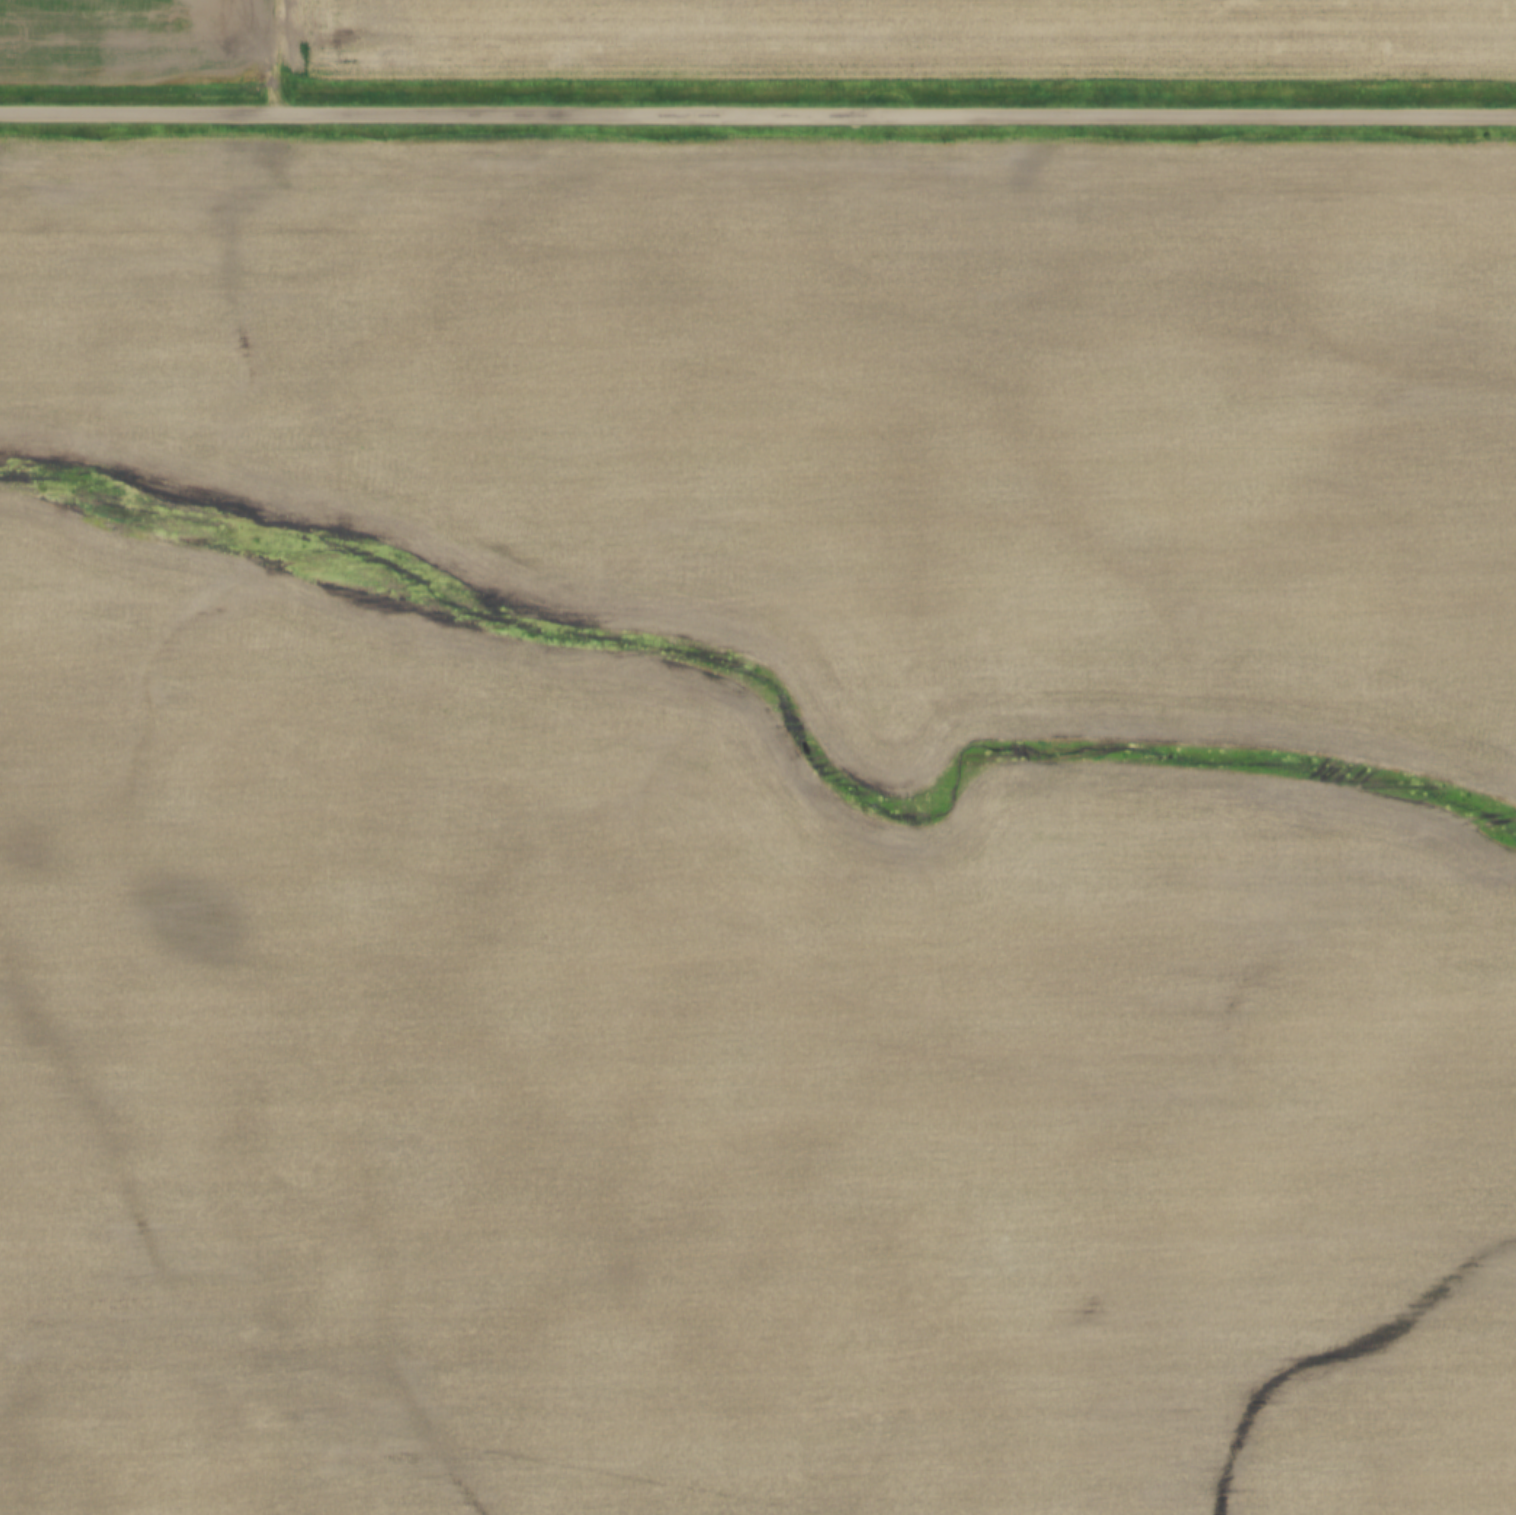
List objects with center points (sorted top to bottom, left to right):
road: (758, 116)

